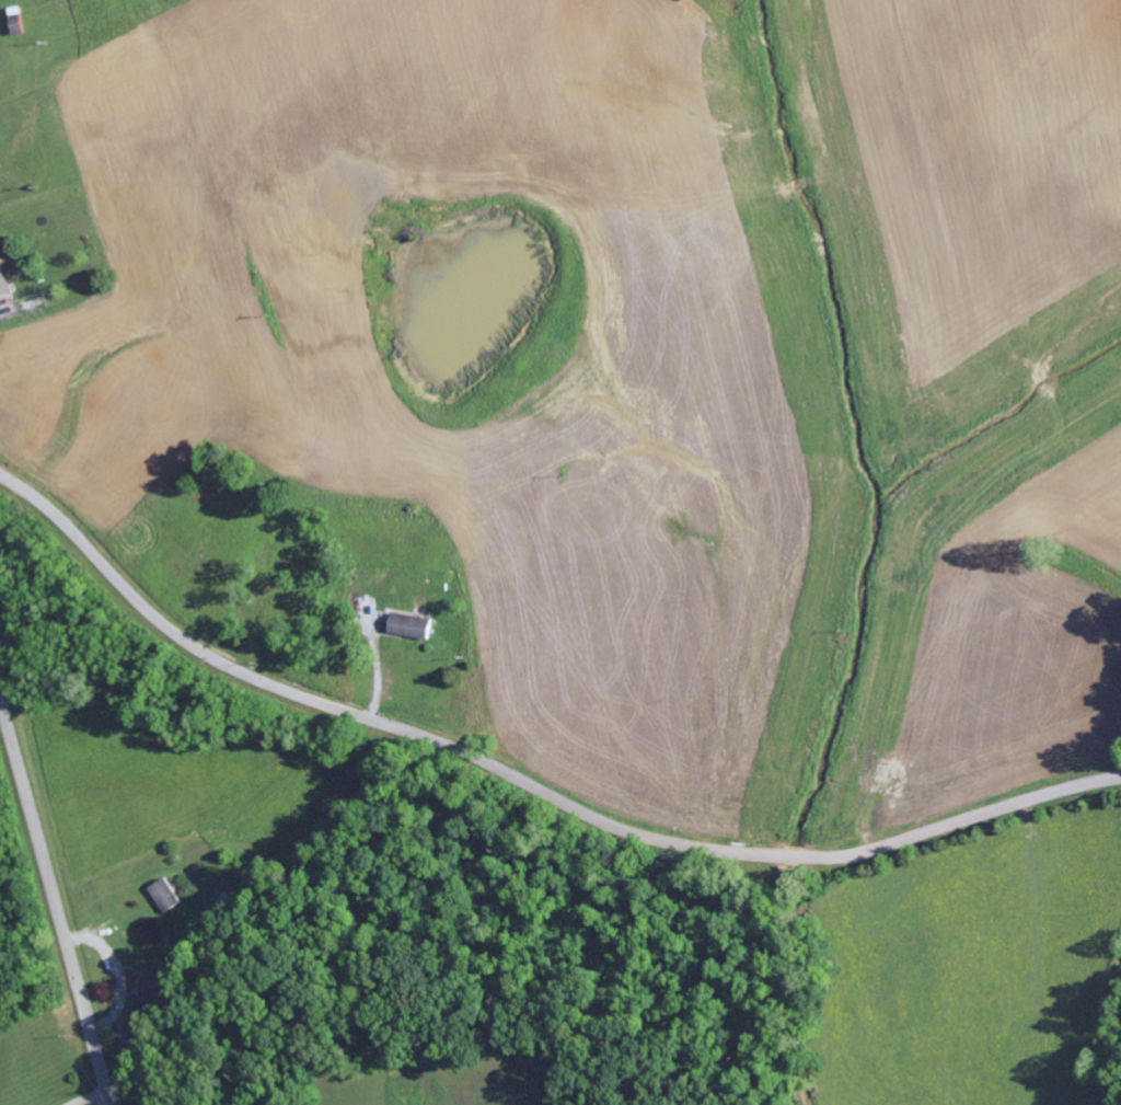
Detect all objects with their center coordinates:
building: (0, 32)
building: (4, 274)
building: (413, 625)
road: (525, 781)
building: (167, 896)
road: (55, 905)
building: (158, 983)
building: (131, 1037)

